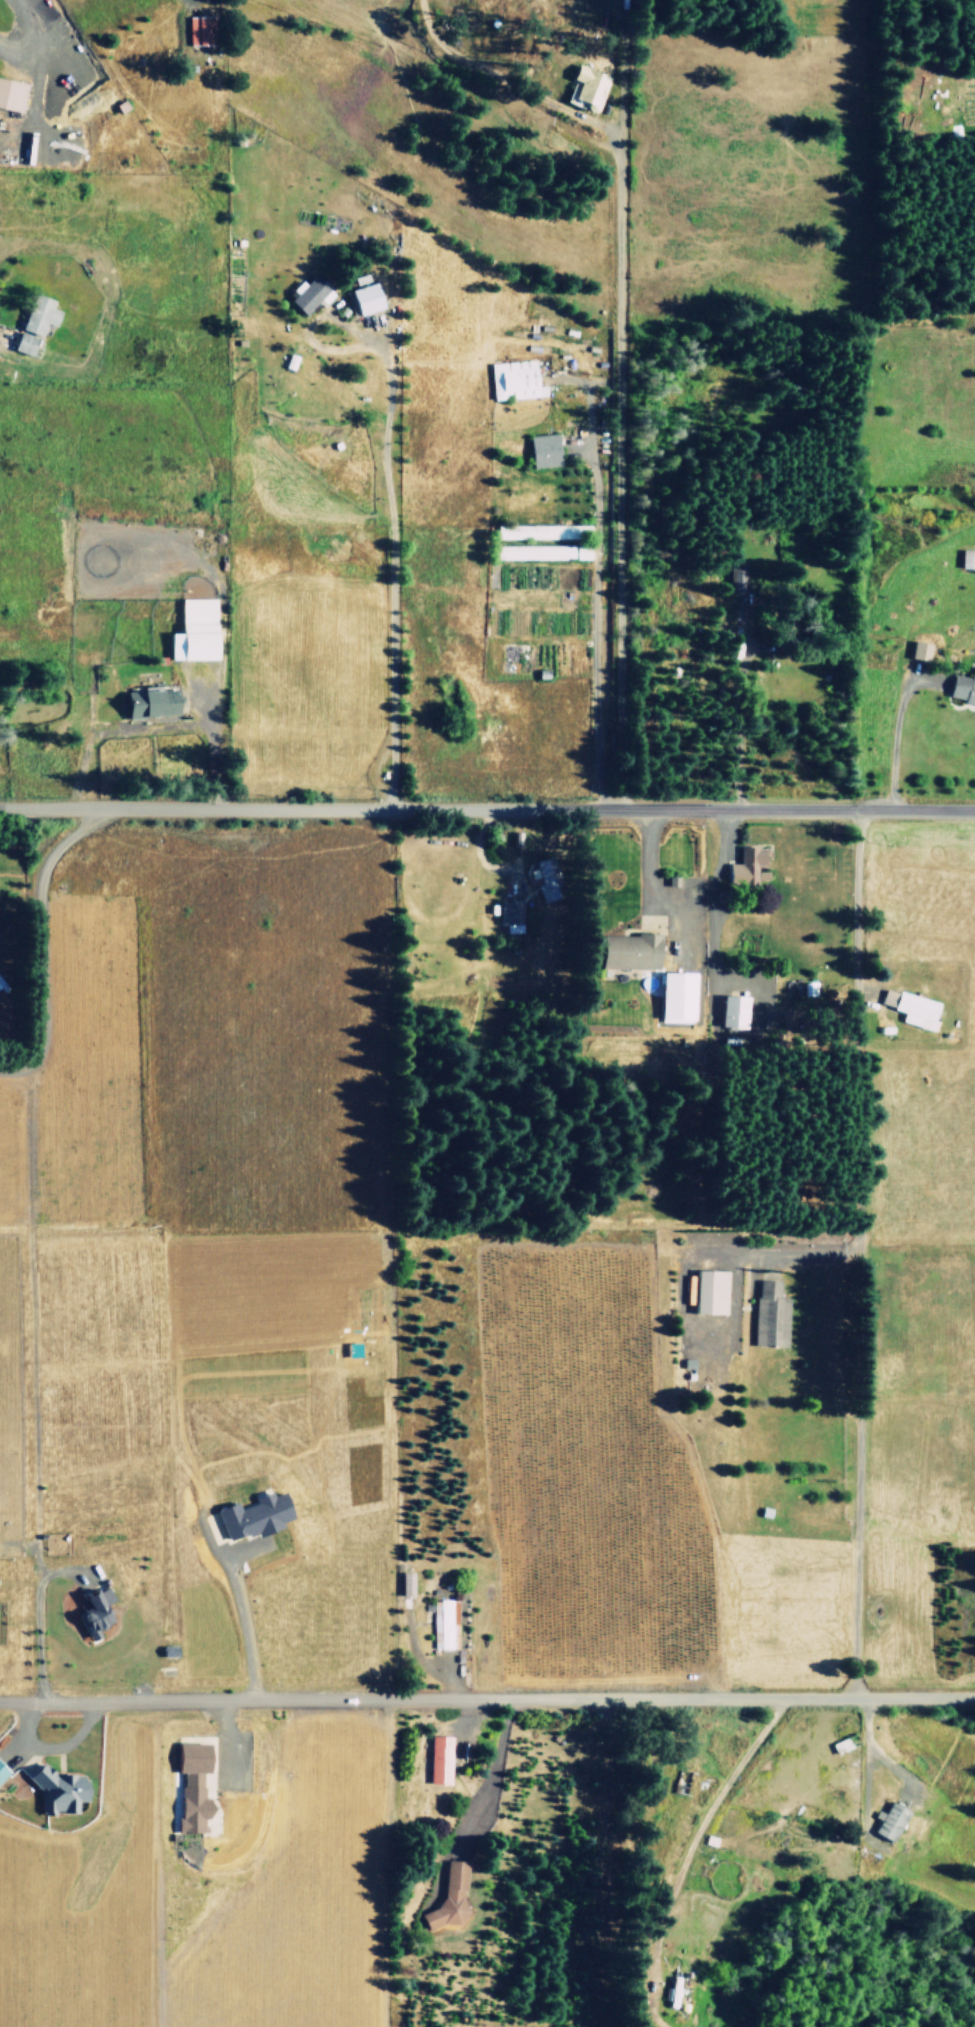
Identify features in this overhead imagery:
building: (201, 30)
building: (583, 87)
building: (12, 94)
building: (310, 294)
building: (367, 298)
building: (36, 323)
building: (511, 380)
building: (540, 450)
road: (617, 456)
building: (507, 533)
building: (564, 552)
building: (527, 553)
building: (964, 558)
building: (734, 577)
building: (196, 631)
building: (915, 651)
building: (961, 687)
building: (154, 702)
road: (487, 807)
road: (649, 867)
building: (745, 870)
building: (507, 914)
road: (710, 918)
road: (37, 932)
building: (625, 951)
building: (2, 986)
building: (671, 997)
building: (909, 1008)
building: (728, 1011)
road: (856, 1017)
building: (706, 1292)
building: (767, 1315)
building: (256, 1515)
building: (407, 1583)
building: (97, 1612)
building: (444, 1623)
road: (240, 1624)
road: (487, 1698)
building: (439, 1759)
building: (3, 1771)
building: (193, 1784)
building: (61, 1790)
building: (890, 1821)
building: (449, 1898)
building: (672, 1991)

